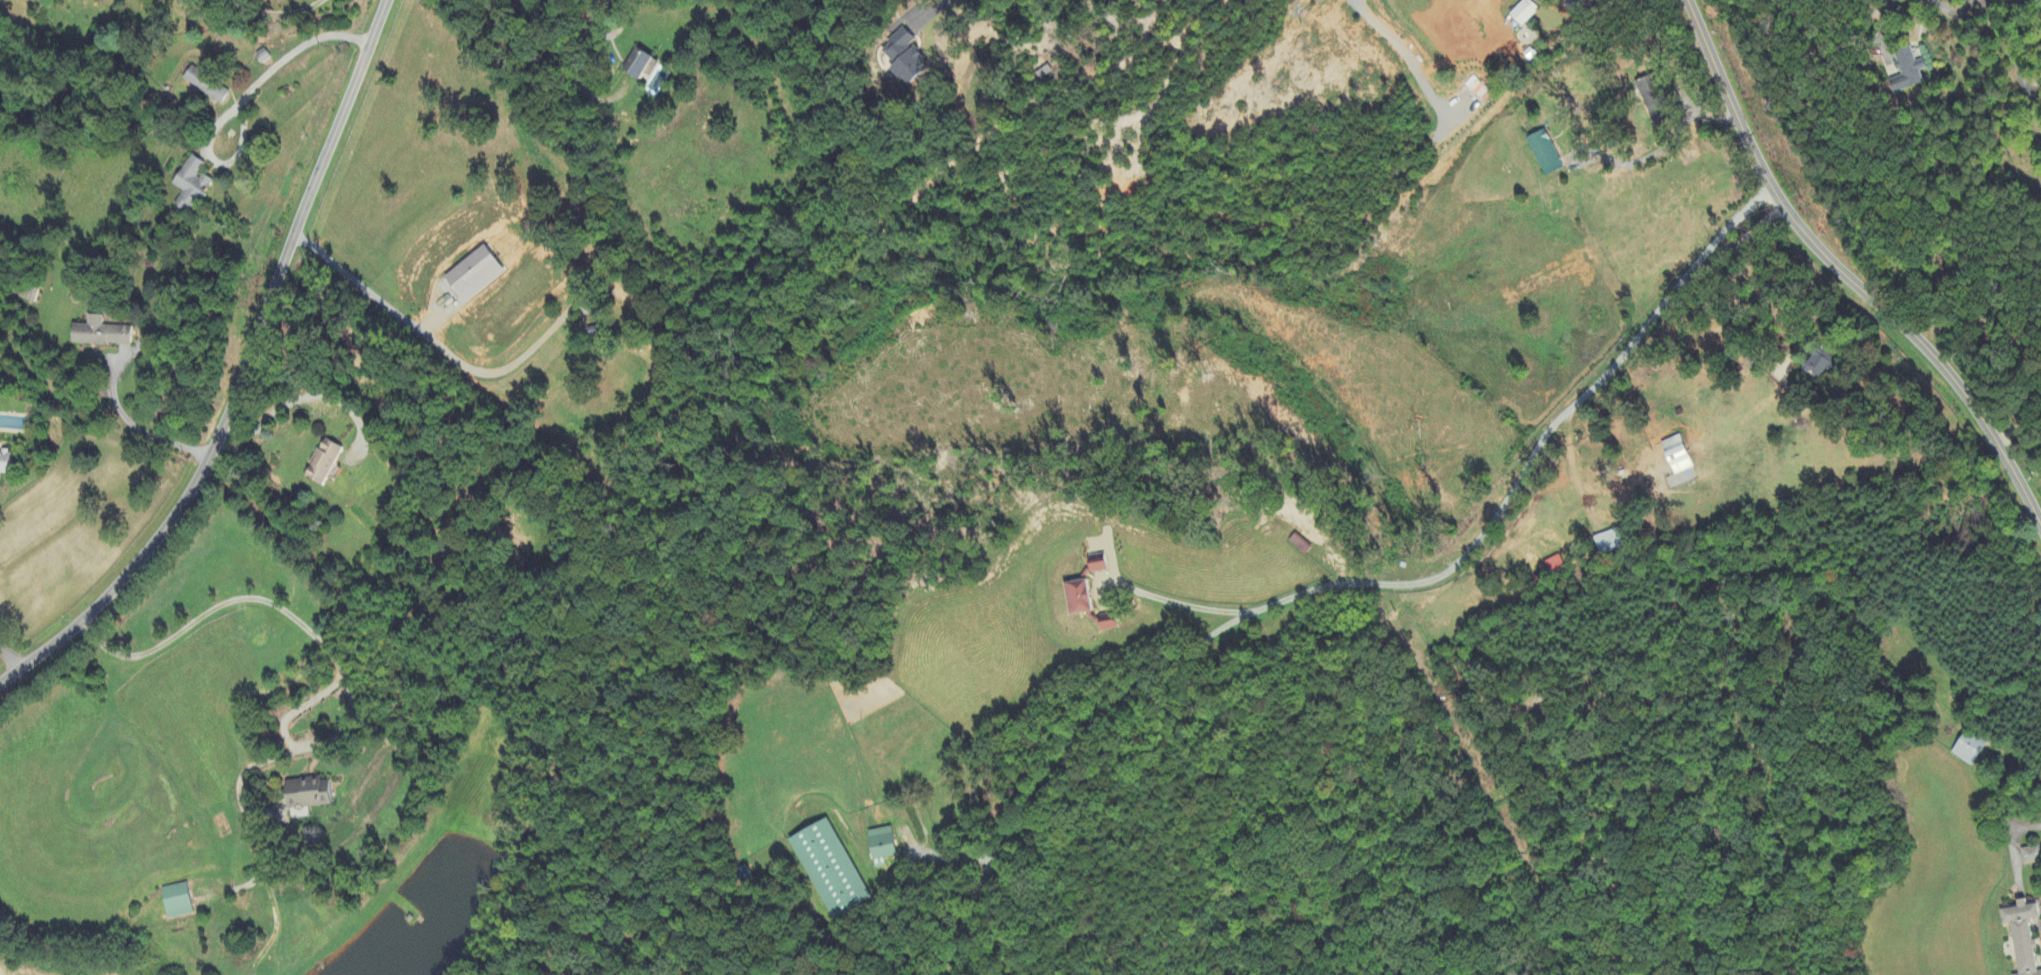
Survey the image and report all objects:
road: (1571, 1)
road: (278, 9)
road: (1954, 11)
road: (936, 12)
road: (1559, 14)
road: (1885, 23)
road: (2001, 43)
road: (1396, 49)
road: (287, 56)
road: (1653, 152)
road: (1841, 276)
road: (441, 347)
road: (243, 373)
road: (297, 400)
road: (135, 418)
road: (2019, 427)
road: (1534, 457)
road: (1171, 599)
road: (324, 646)
road: (8, 659)
road: (1061, 765)
road: (940, 858)

